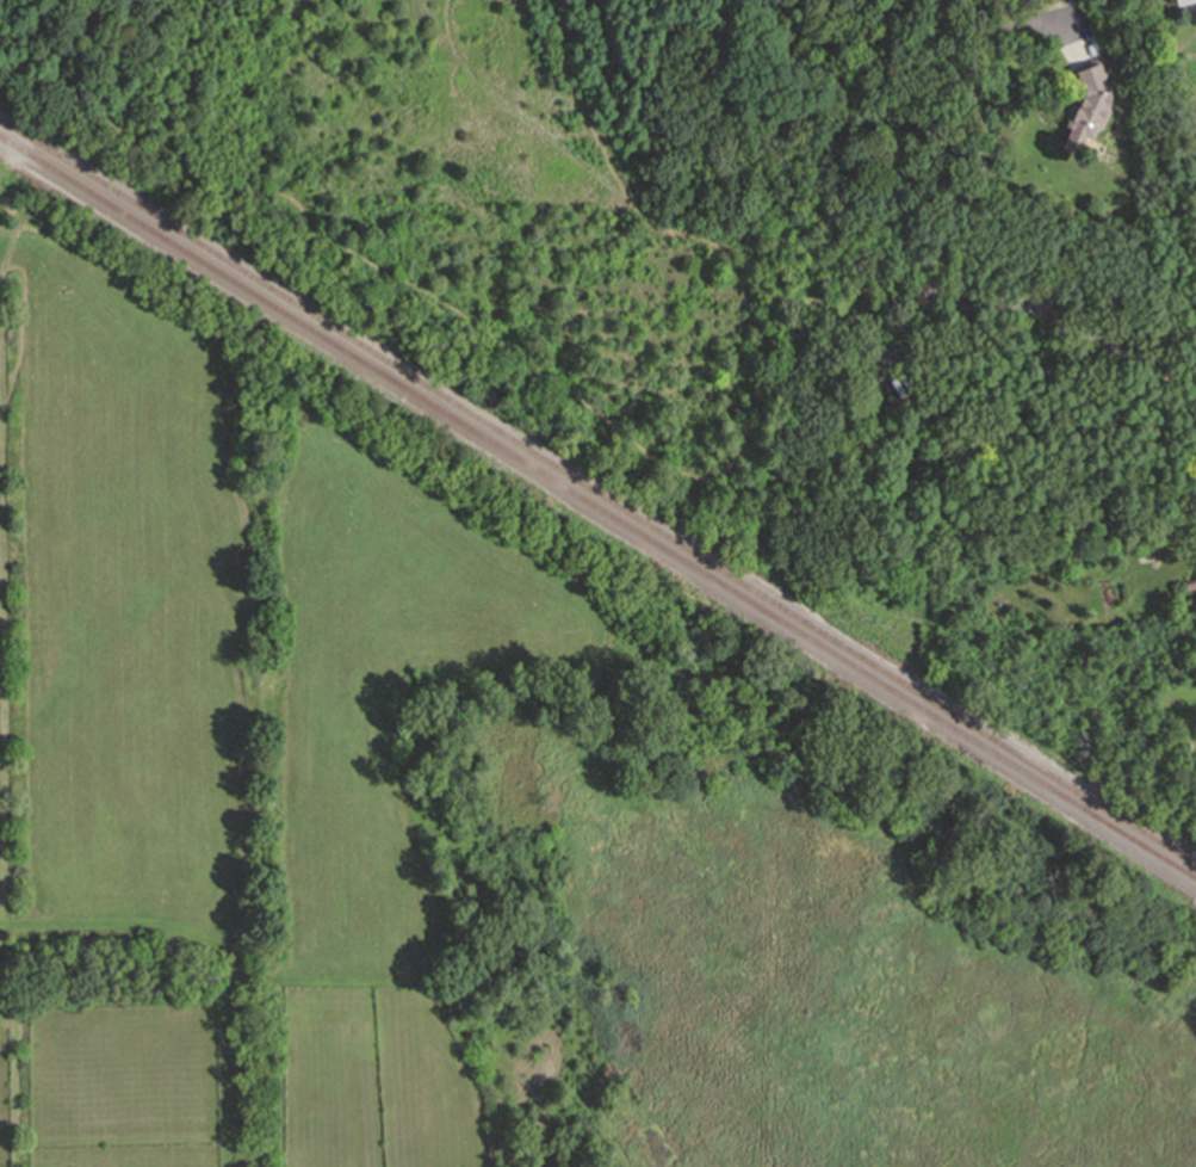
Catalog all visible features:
building: (1177, 1)
building: (1085, 106)
building: (1027, 190)
road: (923, 257)
railway: (597, 493)
railway: (597, 510)
building: (1188, 582)

